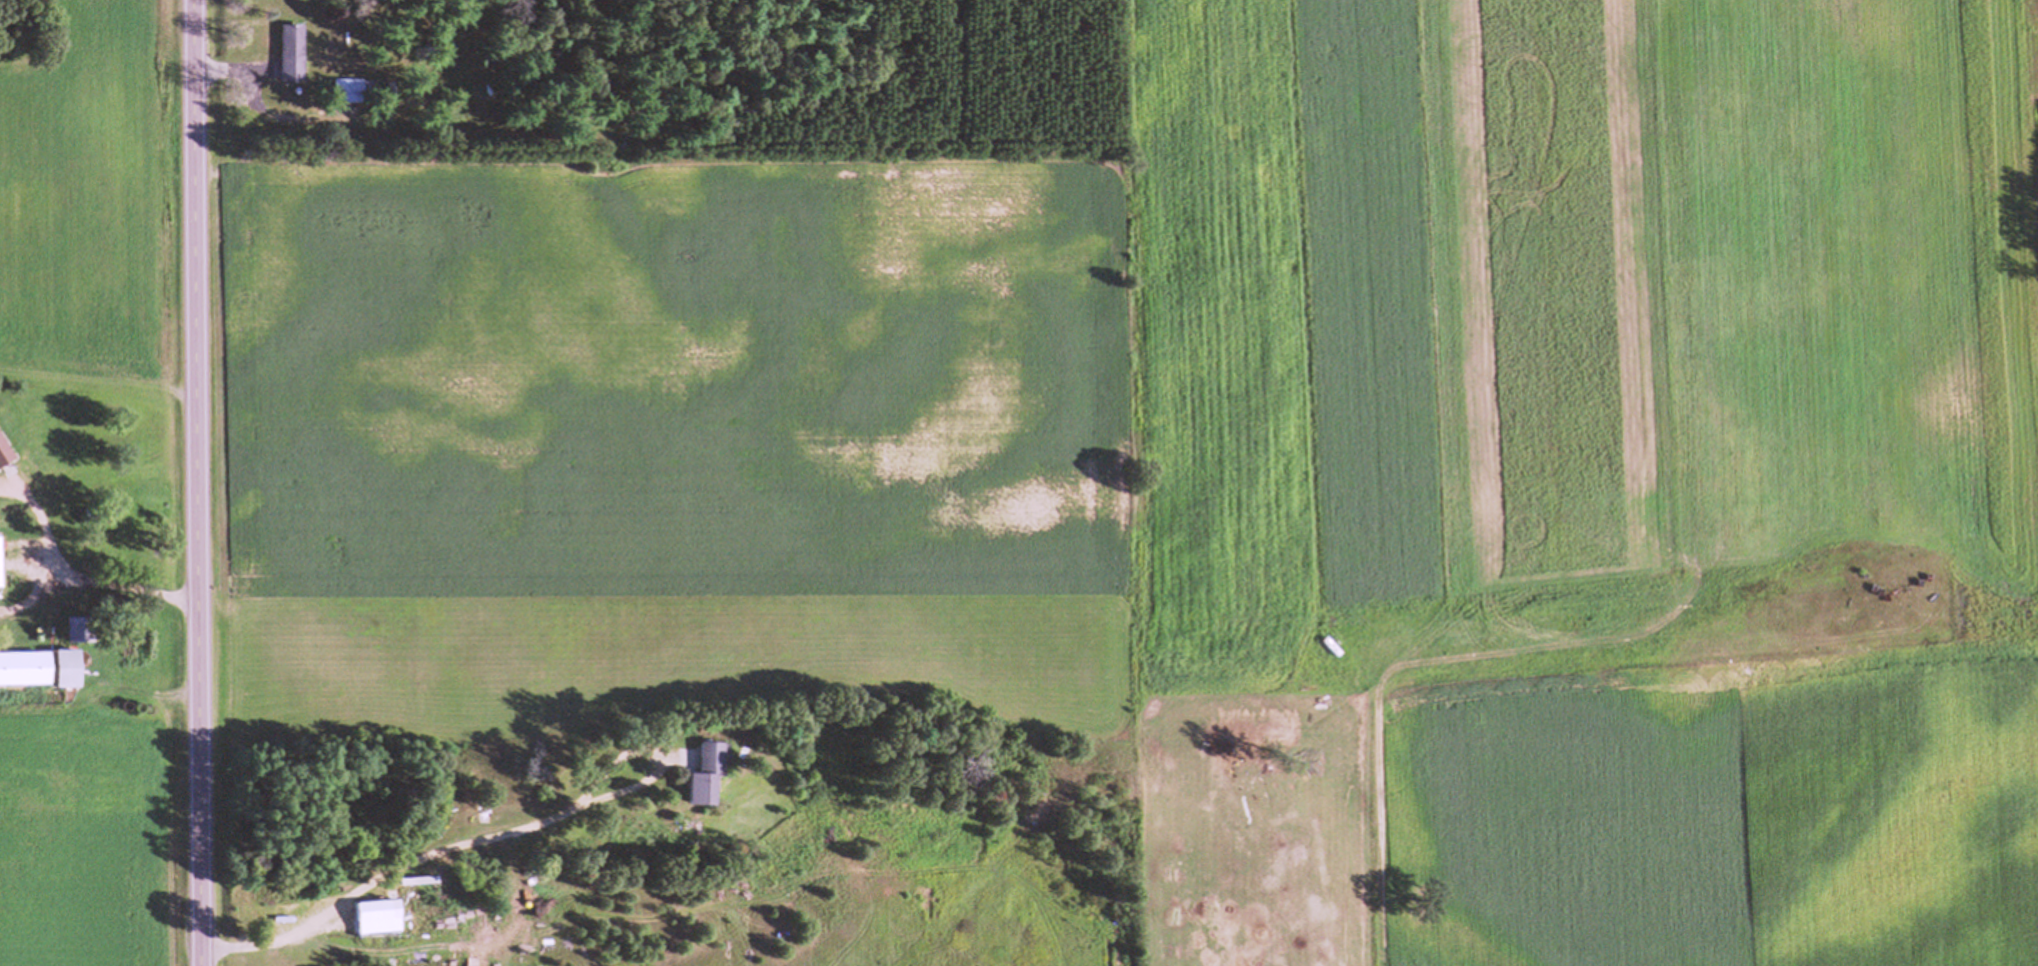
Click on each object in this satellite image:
building: (288, 54)
building: (339, 92)
building: (2, 456)
road: (192, 482)
building: (35, 670)
building: (701, 774)
road: (482, 846)
building: (366, 912)

